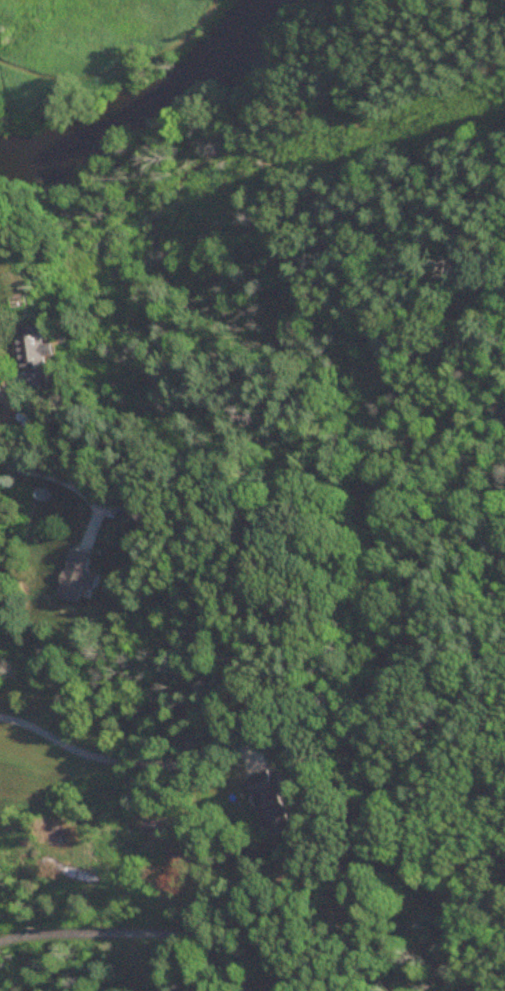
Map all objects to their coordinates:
road: (114, 64)
road: (31, 102)
river: (154, 113)
building: (34, 355)
road: (63, 485)
building: (147, 512)
building: (76, 577)
road: (122, 763)
building: (271, 803)
road: (132, 933)

